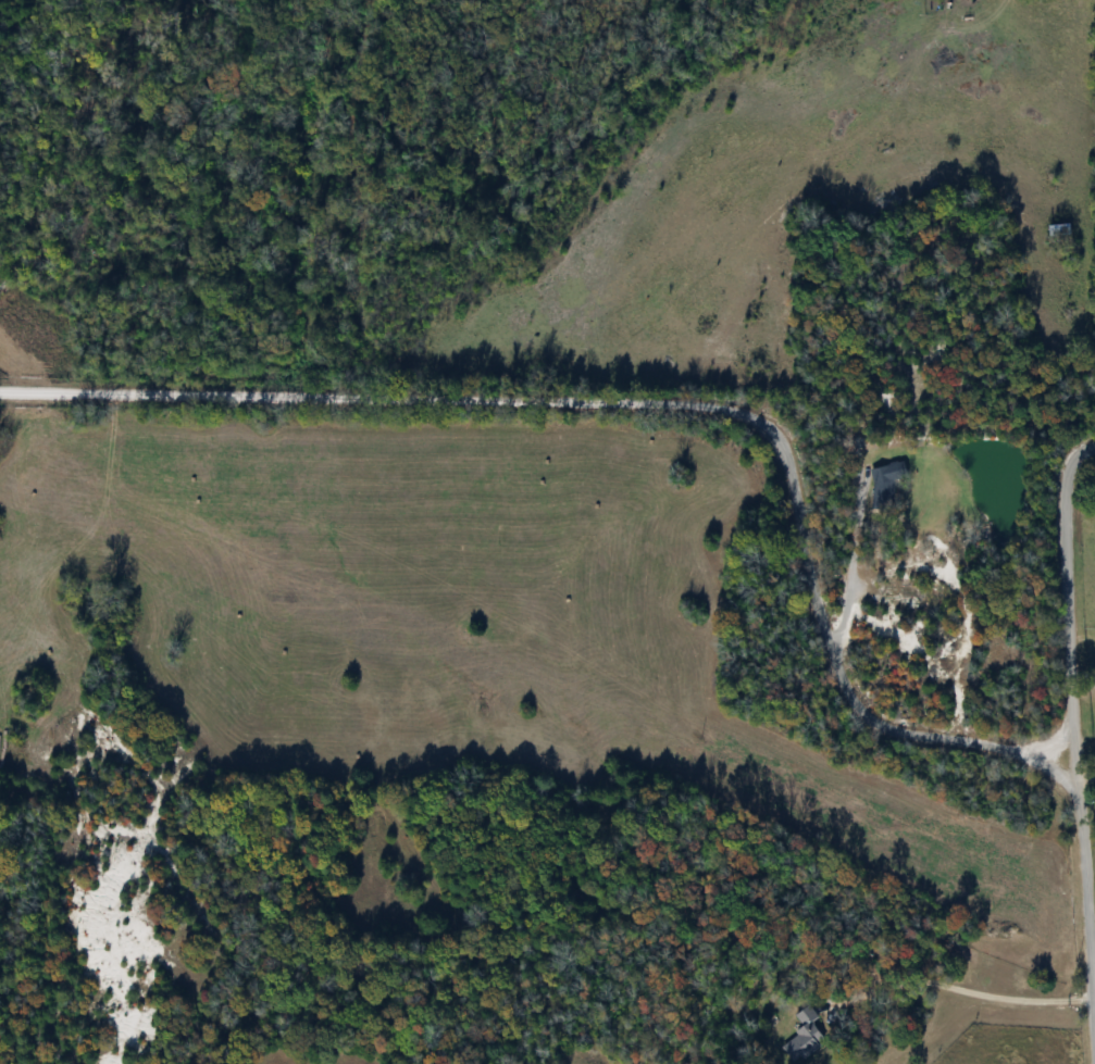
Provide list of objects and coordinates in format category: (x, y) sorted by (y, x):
building: (1057, 229)
road: (649, 397)
building: (882, 481)
road: (850, 565)
road: (1067, 592)
road: (1088, 903)
road: (966, 988)
building: (805, 1036)

